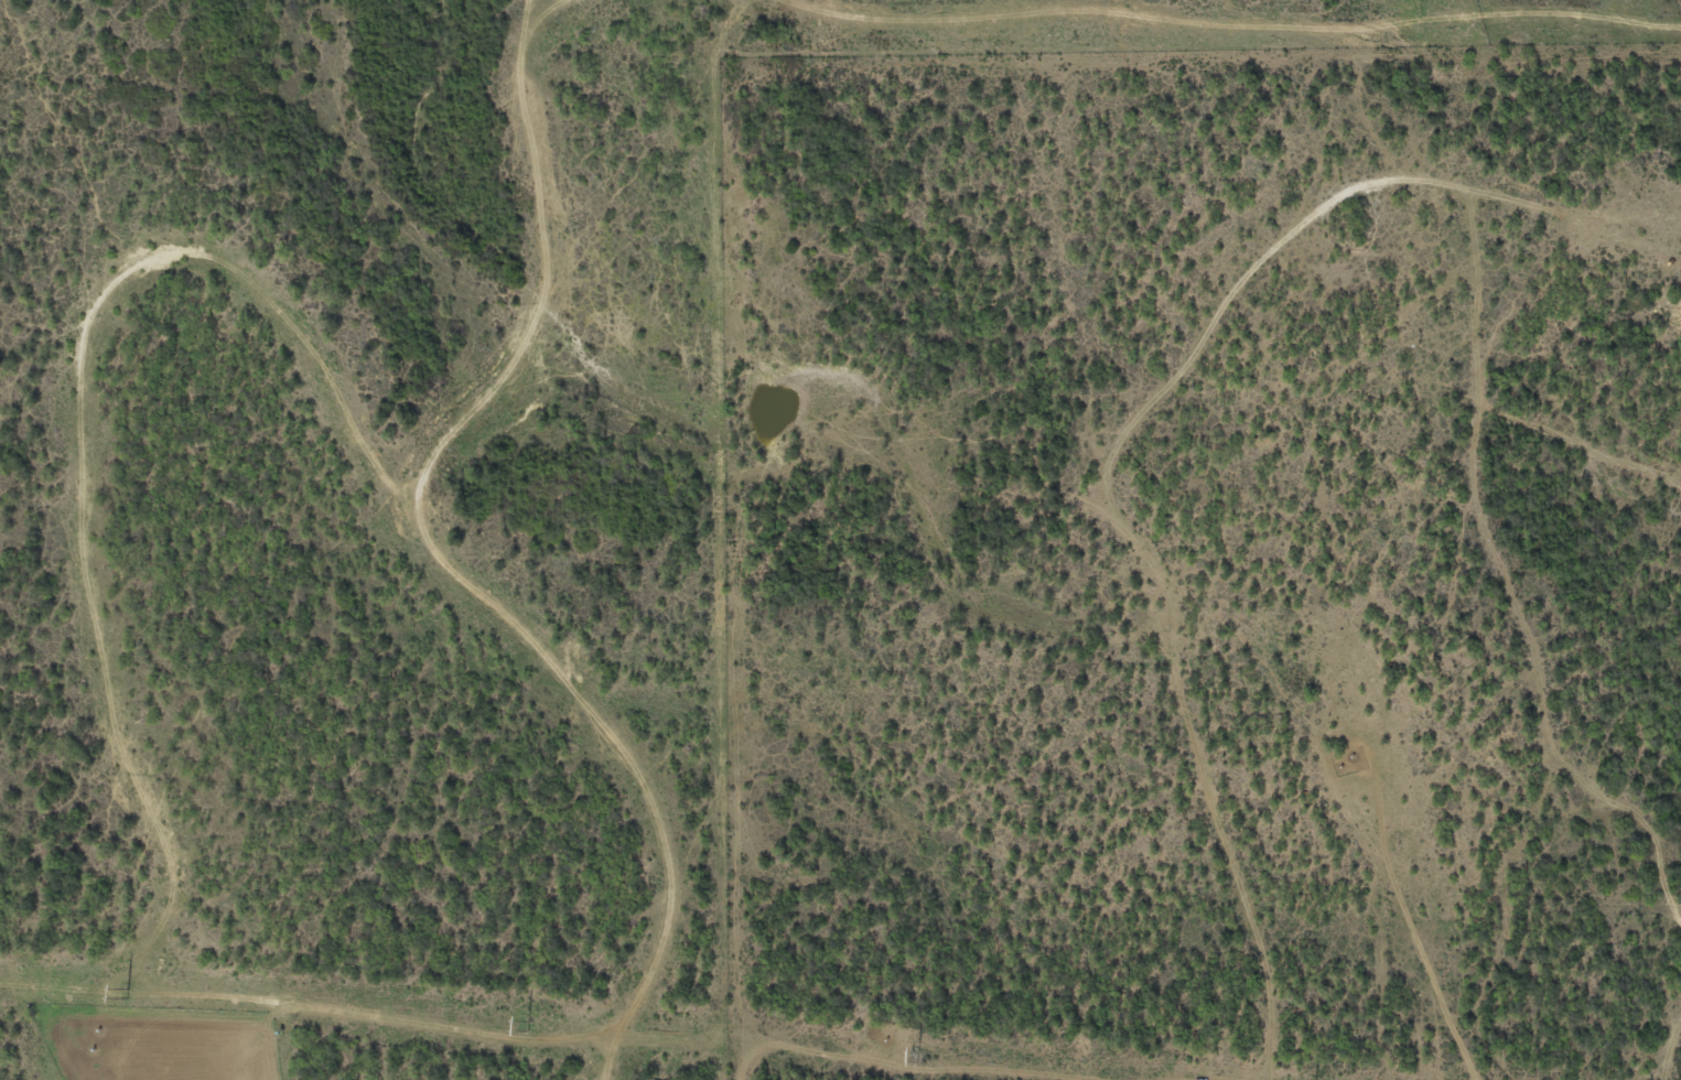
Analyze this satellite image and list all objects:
power tower: (127, 994)
power tower: (527, 1026)
power tower: (916, 1058)

